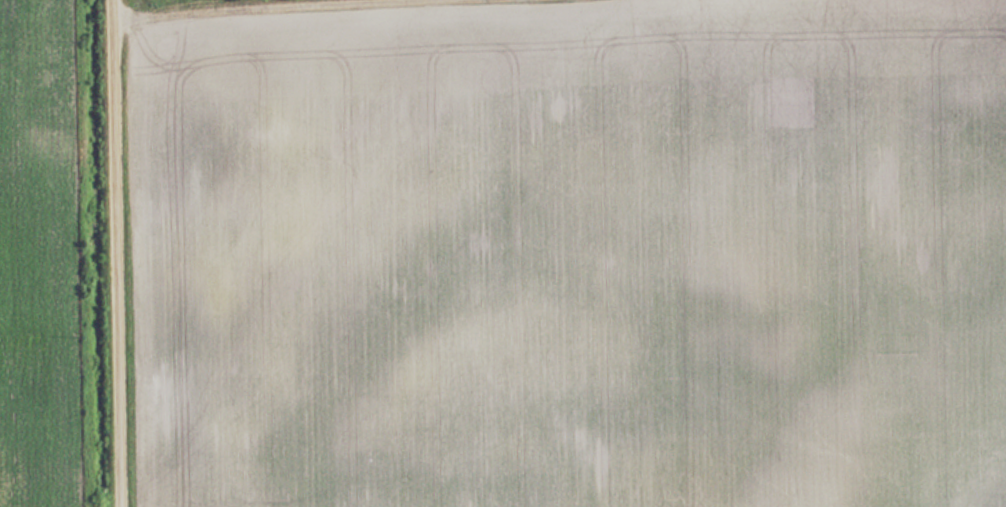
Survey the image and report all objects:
road: (117, 253)

